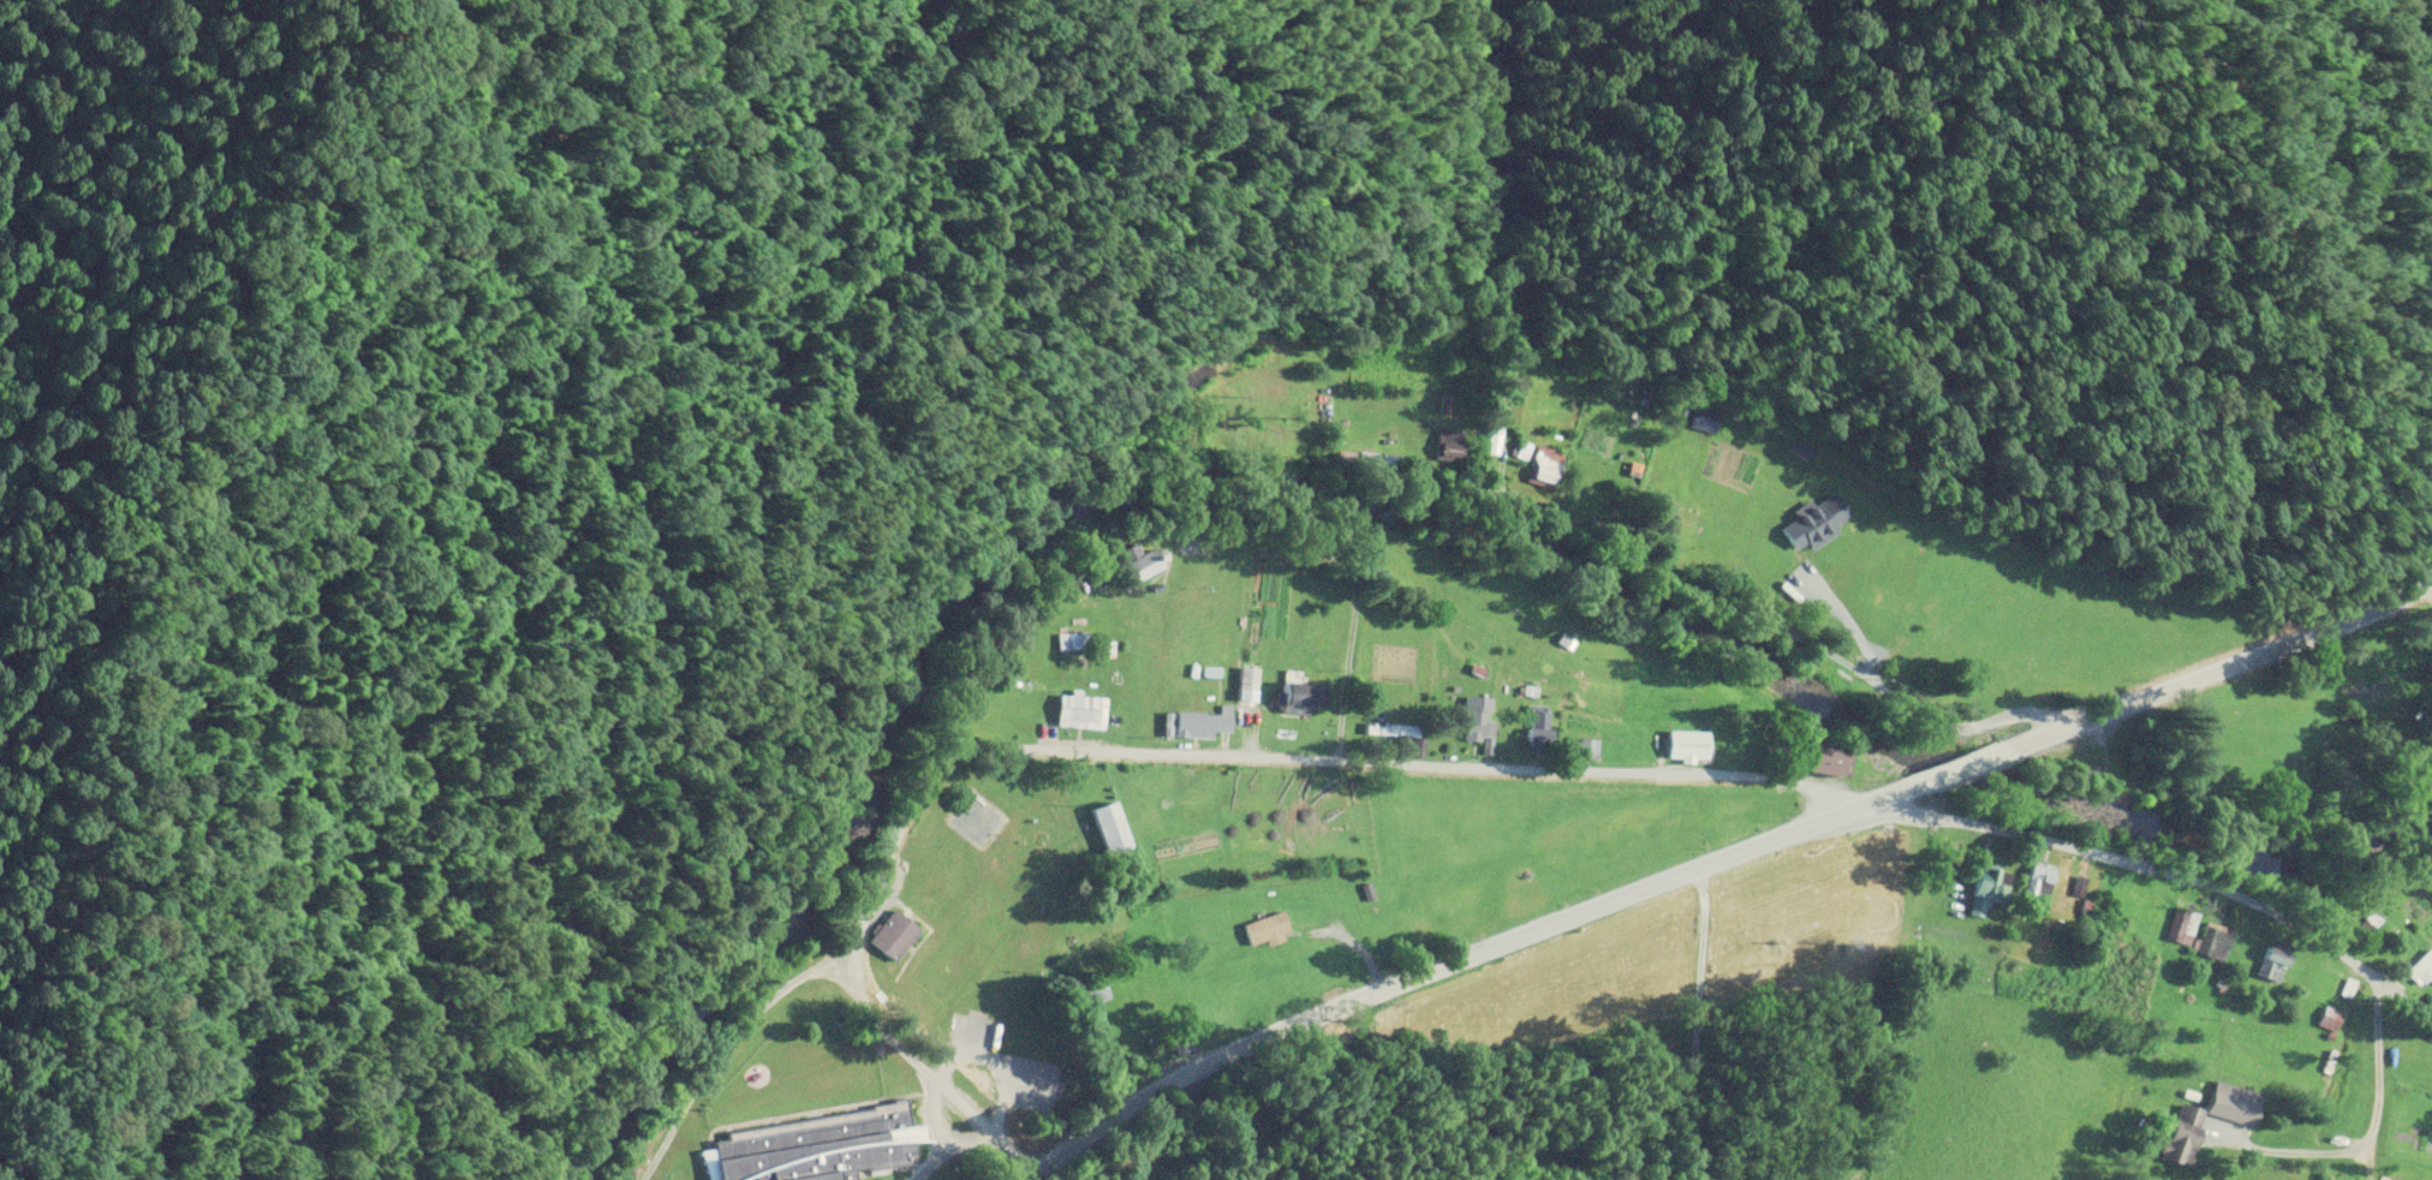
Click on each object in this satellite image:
building: (1950, 601)
road: (1918, 665)
building: (1248, 677)
building: (1080, 708)
building: (1479, 716)
building: (1194, 721)
building: (1540, 721)
building: (1687, 743)
building: (1587, 745)
road: (1473, 788)
building: (1110, 827)
road: (1697, 860)
building: (2182, 924)
building: (1266, 926)
building: (894, 932)
building: (2272, 961)
building: (2422, 970)
building: (2329, 1015)
road: (1693, 1024)
building: (817, 1144)

